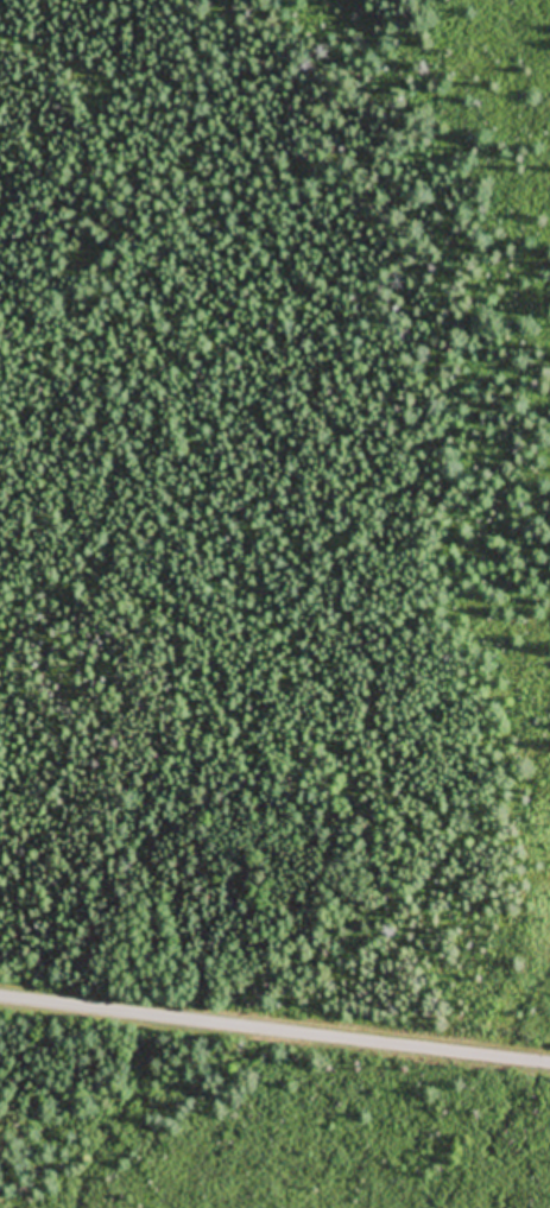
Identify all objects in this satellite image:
road: (274, 1023)

